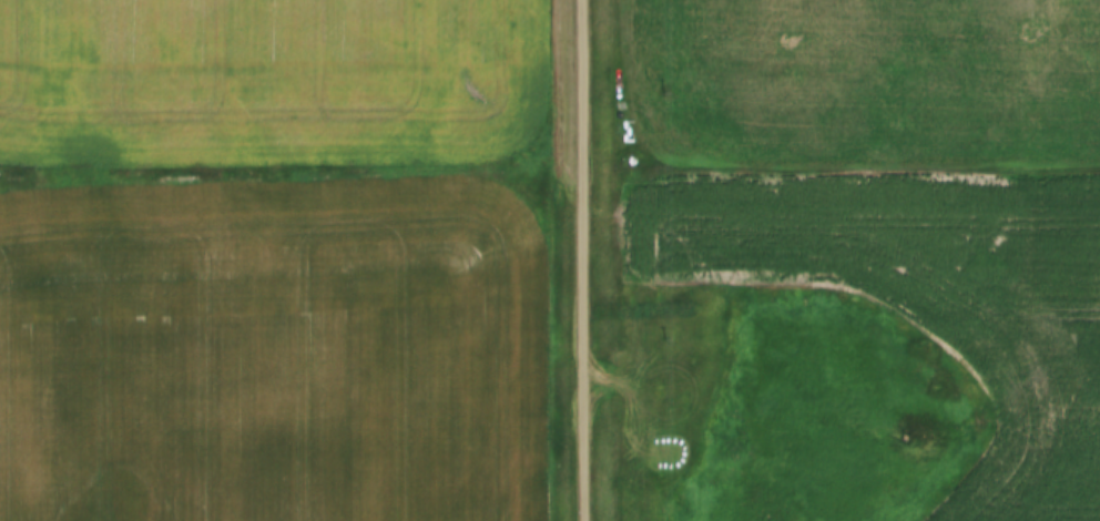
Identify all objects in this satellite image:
road: (585, 259)

